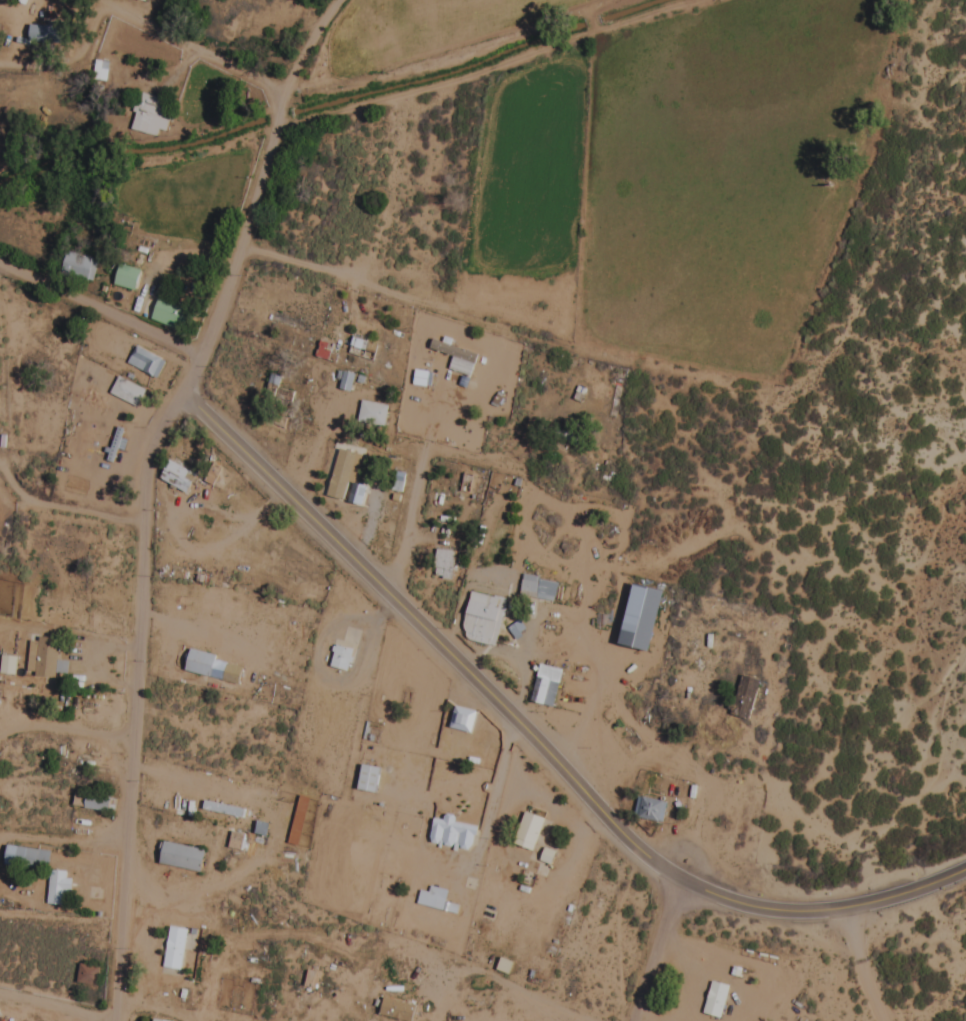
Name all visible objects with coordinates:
building: (147, 1)
building: (50, 36)
road: (205, 54)
building: (101, 69)
road: (488, 71)
building: (150, 115)
road: (256, 193)
building: (81, 264)
building: (129, 277)
road: (429, 303)
road: (99, 308)
building: (169, 312)
building: (462, 354)
building: (149, 362)
building: (348, 381)
building: (276, 382)
building: (129, 392)
building: (374, 411)
building: (344, 474)
building: (180, 477)
building: (398, 483)
building: (358, 493)
road: (407, 524)
building: (541, 589)
road: (383, 614)
building: (636, 618)
building: (485, 619)
building: (43, 657)
building: (343, 658)
building: (202, 664)
building: (9, 665)
road: (324, 673)
building: (548, 686)
building: (744, 698)
road: (134, 702)
building: (464, 720)
road: (65, 731)
road: (536, 743)
building: (371, 779)
building: (94, 802)
building: (651, 810)
building: (531, 831)
building: (454, 834)
building: (29, 857)
building: (185, 857)
building: (59, 887)
building: (428, 899)
building: (176, 948)
road: (657, 950)
road: (863, 965)
building: (90, 975)
building: (715, 1000)
road: (55, 1007)
building: (398, 1010)
building: (478, 1017)

